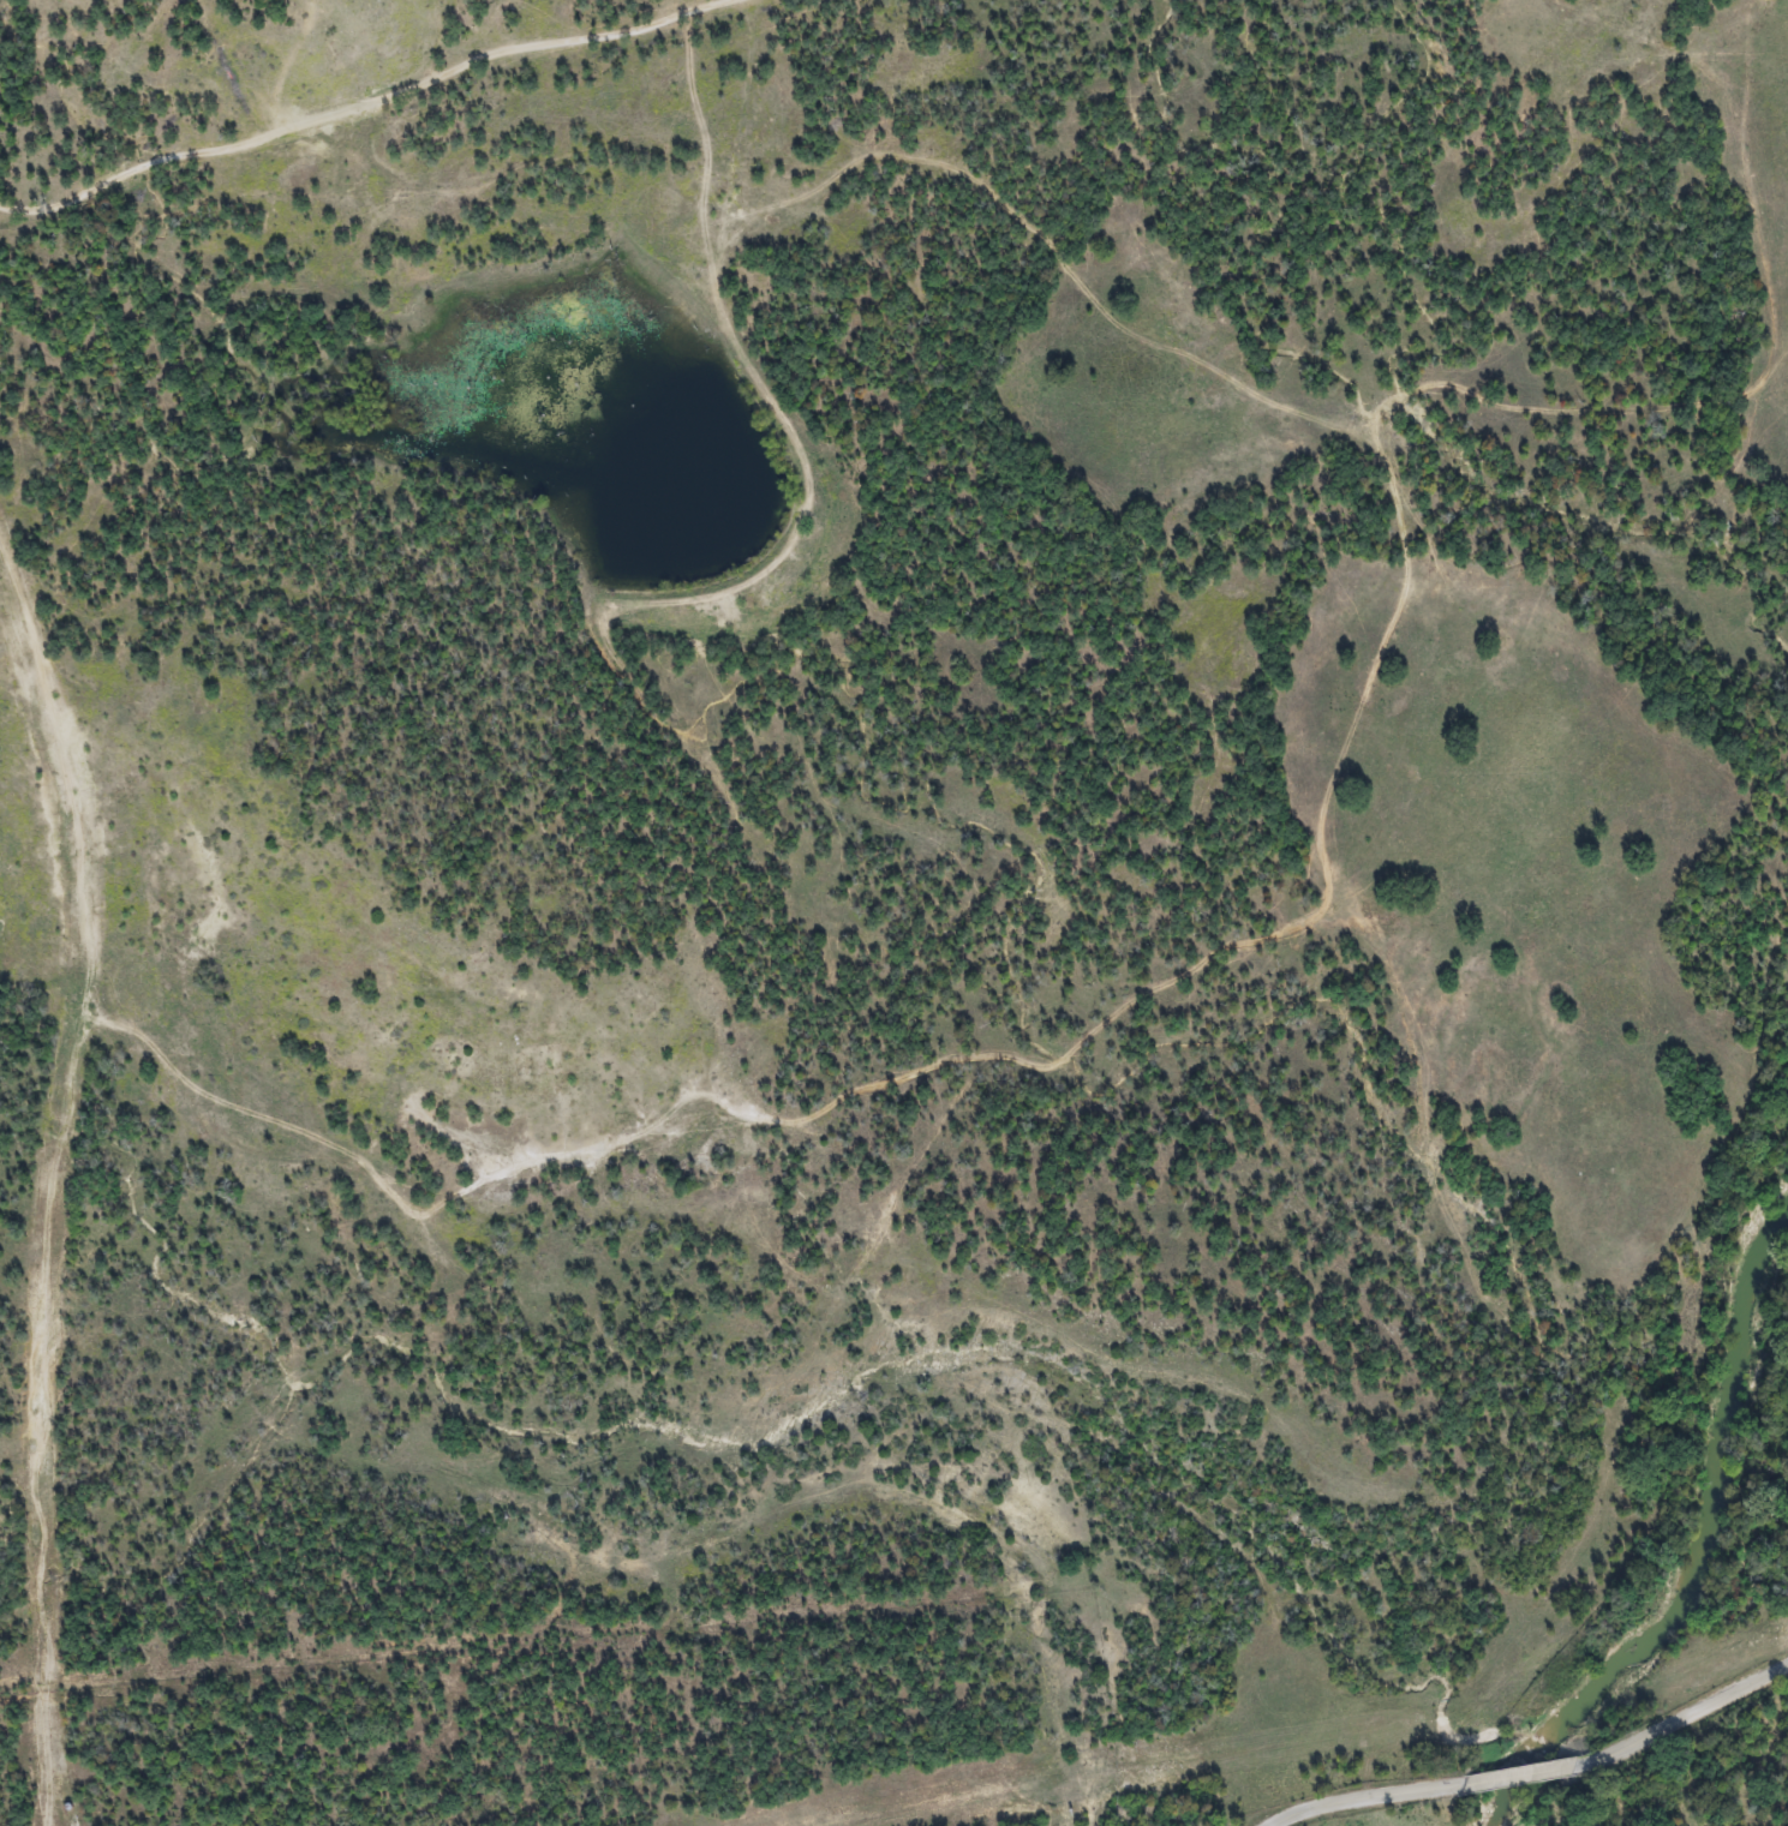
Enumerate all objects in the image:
road: (1531, 1774)

